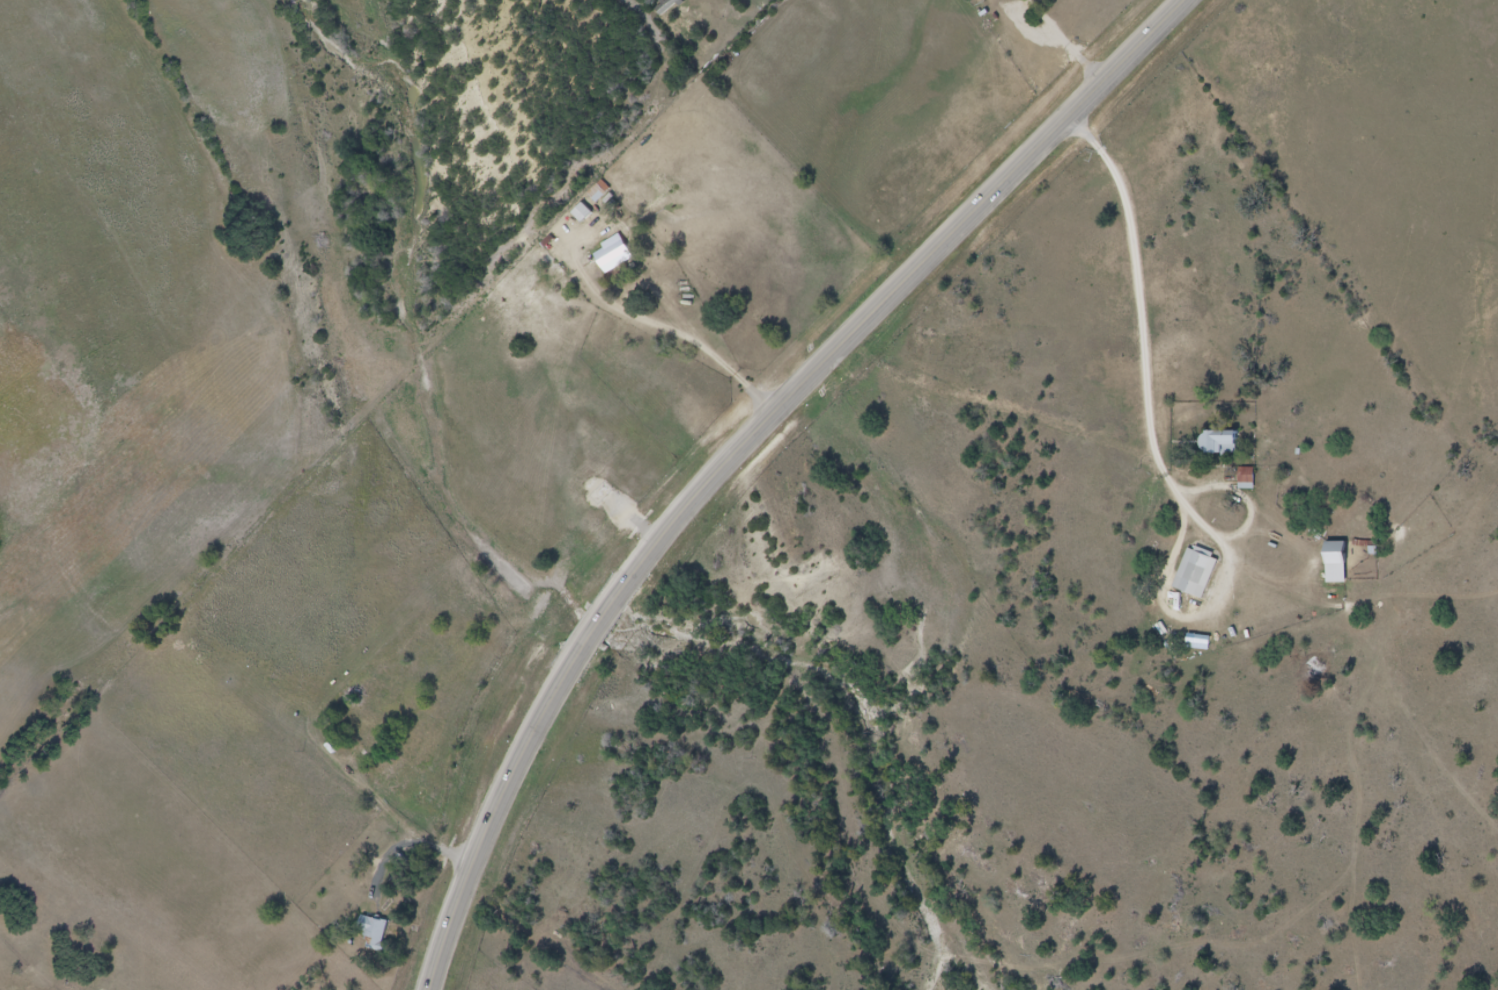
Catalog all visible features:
building: (598, 191)
building: (608, 194)
building: (590, 217)
building: (621, 257)
road: (892, 300)
road: (674, 329)
building: (1225, 444)
road: (1161, 446)
building: (1254, 477)
building: (1246, 479)
road: (1250, 495)
building: (1344, 572)
building: (1203, 573)
road: (595, 633)
road: (497, 816)
building: (402, 864)
building: (368, 926)

